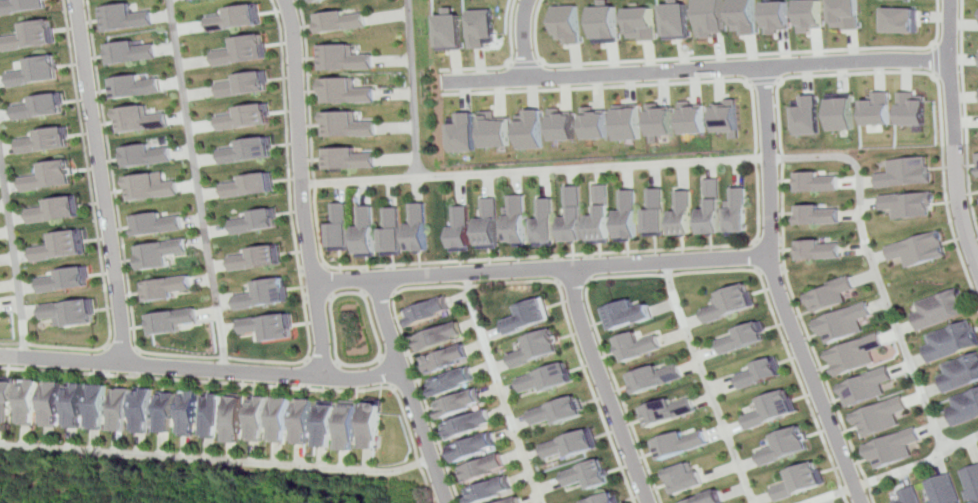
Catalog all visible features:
building: (195, 0)
building: (318, 1)
building: (21, 5)
building: (848, 14)
building: (813, 15)
building: (780, 16)
building: (126, 17)
building: (713, 17)
building: (748, 17)
building: (239, 18)
building: (903, 20)
building: (344, 21)
building: (678, 21)
building: (571, 23)
building: (644, 23)
building: (608, 24)
building: (485, 28)
road: (953, 30)
building: (451, 32)
building: (29, 35)
road: (527, 39)
building: (245, 51)
building: (132, 52)
road: (730, 56)
building: (344, 58)
road: (938, 61)
road: (858, 62)
road: (525, 63)
road: (508, 64)
building: (33, 71)
road: (646, 73)
road: (764, 80)
road: (485, 82)
building: (246, 84)
building: (138, 85)
road: (413, 89)
building: (347, 92)
road: (778, 104)
building: (36, 107)
building: (877, 109)
building: (912, 109)
building: (841, 111)
road: (965, 112)
building: (807, 116)
building: (248, 117)
building: (728, 117)
building: (692, 118)
building: (140, 119)
building: (660, 121)
building: (627, 122)
building: (594, 124)
building: (348, 125)
building: (562, 125)
building: (495, 130)
building: (530, 130)
building: (462, 132)
building: (45, 140)
building: (249, 150)
building: (977, 155)
building: (148, 156)
building: (352, 158)
road: (730, 162)
road: (956, 165)
building: (905, 172)
building: (48, 177)
building: (818, 181)
road: (99, 182)
building: (249, 185)
road: (201, 186)
building: (152, 188)
road: (301, 189)
building: (910, 204)
building: (710, 206)
building: (54, 210)
building: (737, 210)
building: (655, 211)
building: (572, 212)
building: (682, 212)
building: (600, 213)
building: (627, 214)
building: (819, 215)
building: (517, 218)
building: (544, 219)
building: (255, 221)
building: (489, 222)
building: (158, 224)
building: (338, 226)
road: (94, 227)
building: (418, 228)
building: (462, 230)
building: (365, 232)
building: (392, 233)
road: (770, 241)
building: (60, 247)
building: (821, 250)
building: (921, 250)
road: (641, 251)
building: (161, 253)
road: (758, 256)
building: (256, 258)
road: (14, 261)
road: (543, 269)
road: (774, 270)
road: (680, 273)
road: (363, 279)
road: (392, 279)
building: (63, 280)
road: (574, 280)
road: (328, 281)
road: (483, 284)
building: (167, 288)
road: (781, 291)
road: (380, 293)
building: (264, 294)
building: (830, 296)
road: (317, 298)
building: (732, 304)
building: (428, 311)
building: (940, 311)
building: (0, 312)
building: (70, 313)
building: (629, 315)
building: (530, 316)
building: (172, 320)
building: (844, 323)
building: (268, 328)
building: (440, 336)
building: (744, 338)
building: (952, 343)
building: (641, 346)
road: (122, 348)
building: (541, 348)
road: (394, 354)
building: (855, 355)
road: (227, 358)
building: (447, 359)
road: (323, 361)
road: (135, 363)
road: (360, 364)
road: (200, 370)
road: (384, 372)
building: (759, 372)
building: (959, 375)
building: (551, 378)
building: (656, 378)
road: (404, 382)
building: (452, 382)
road: (708, 383)
road: (258, 385)
road: (609, 386)
building: (866, 386)
road: (506, 388)
road: (409, 391)
building: (6, 396)
building: (28, 401)
building: (51, 403)
building: (462, 403)
building: (73, 405)
building: (97, 405)
building: (120, 408)
building: (963, 408)
building: (143, 409)
building: (771, 409)
building: (166, 411)
building: (561, 411)
building: (671, 411)
building: (189, 412)
building: (211, 415)
building: (258, 417)
building: (878, 417)
building: (234, 418)
building: (281, 418)
building: (303, 421)
building: (326, 423)
building: (372, 425)
building: (470, 425)
building: (349, 426)
building: (682, 443)
building: (575, 444)
building: (783, 446)
building: (476, 448)
building: (889, 448)
road: (217, 459)
building: (483, 466)
road: (896, 472)
building: (591, 474)
building: (685, 477)
building: (797, 480)
building: (971, 482)
building: (488, 488)
building: (940, 490)
building: (906, 496)
building: (607, 499)
building: (709, 499)
building: (513, 500)

